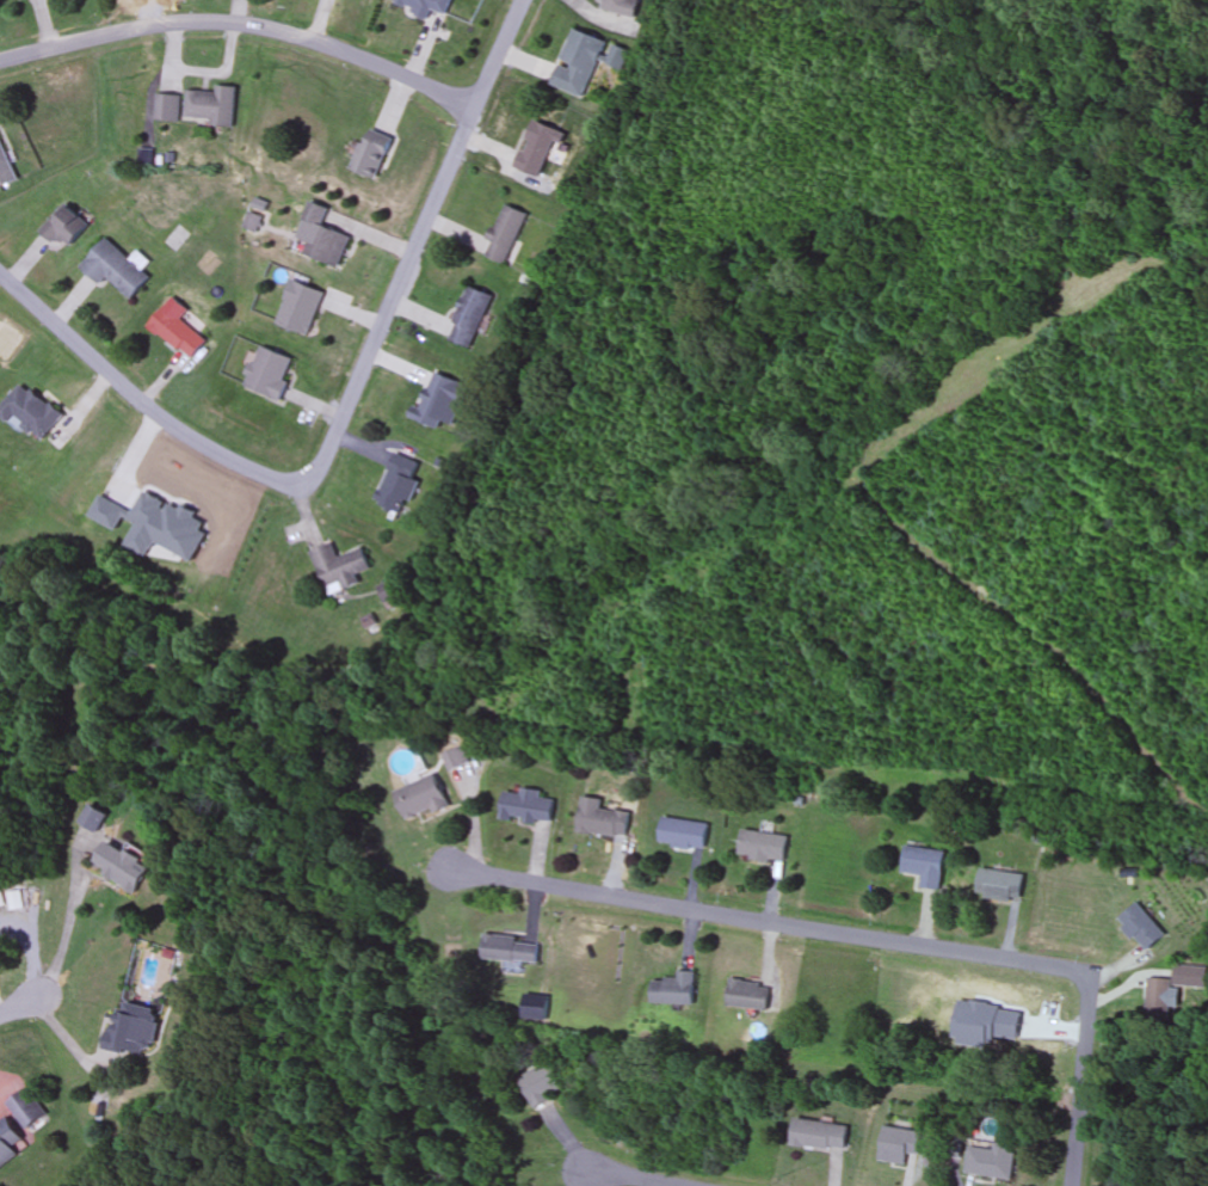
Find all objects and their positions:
building: (425, 6)
building: (620, 6)
road: (244, 26)
road: (499, 55)
building: (617, 57)
building: (578, 62)
building: (214, 105)
building: (168, 107)
building: (537, 149)
building: (374, 153)
building: (5, 167)
building: (67, 227)
building: (506, 234)
building: (323, 236)
building: (118, 269)
road: (30, 300)
road: (394, 302)
building: (302, 308)
building: (472, 317)
building: (179, 333)
building: (271, 373)
building: (442, 399)
building: (29, 411)
road: (175, 425)
building: (400, 484)
building: (340, 567)
building: (455, 758)
building: (421, 798)
building: (526, 806)
building: (95, 818)
building: (603, 819)
building: (684, 834)
building: (764, 847)
building: (124, 866)
building: (925, 866)
building: (1000, 885)
road: (770, 922)
building: (1142, 927)
building: (510, 948)
building: (674, 990)
building: (750, 995)
building: (1159, 1001)
road: (18, 1007)
building: (136, 1031)
road: (1083, 1079)
building: (541, 1086)
building: (26, 1108)
building: (820, 1136)
building: (10, 1142)
building: (993, 1162)
road: (635, 1178)

